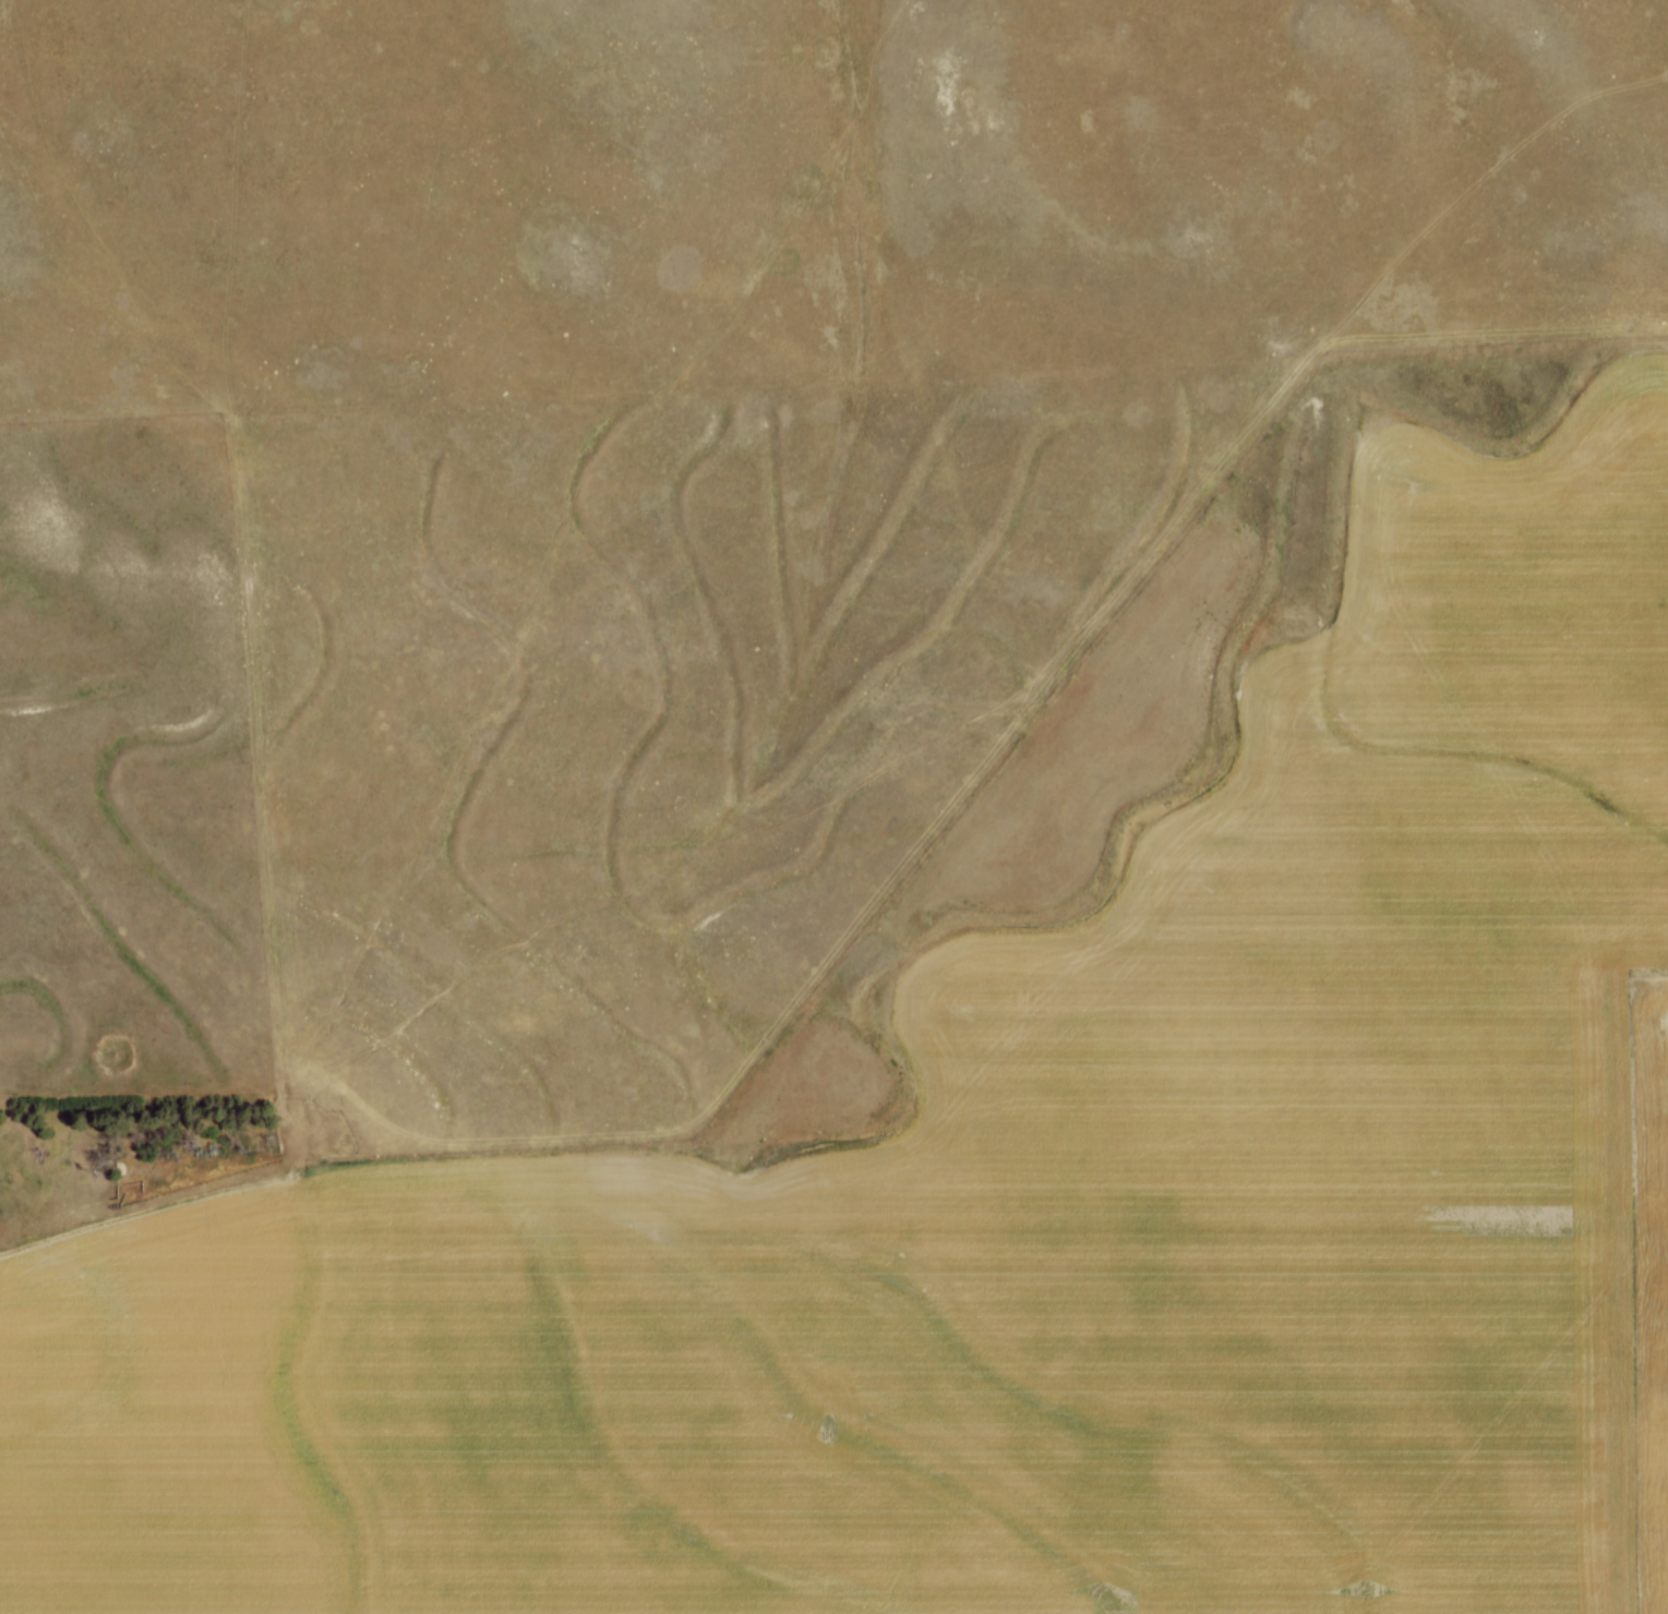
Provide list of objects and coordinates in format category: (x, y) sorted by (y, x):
crop: (1045, 1154)

